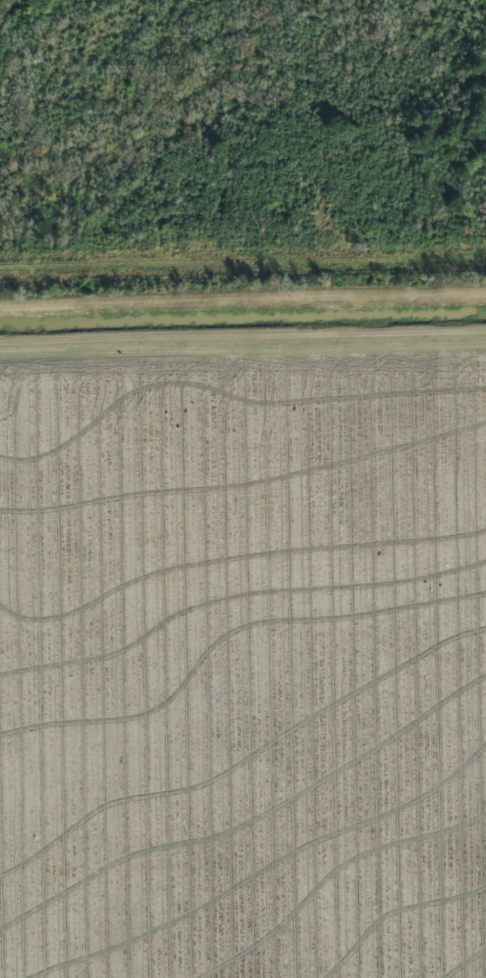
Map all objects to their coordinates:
road: (243, 306)
road: (243, 344)

